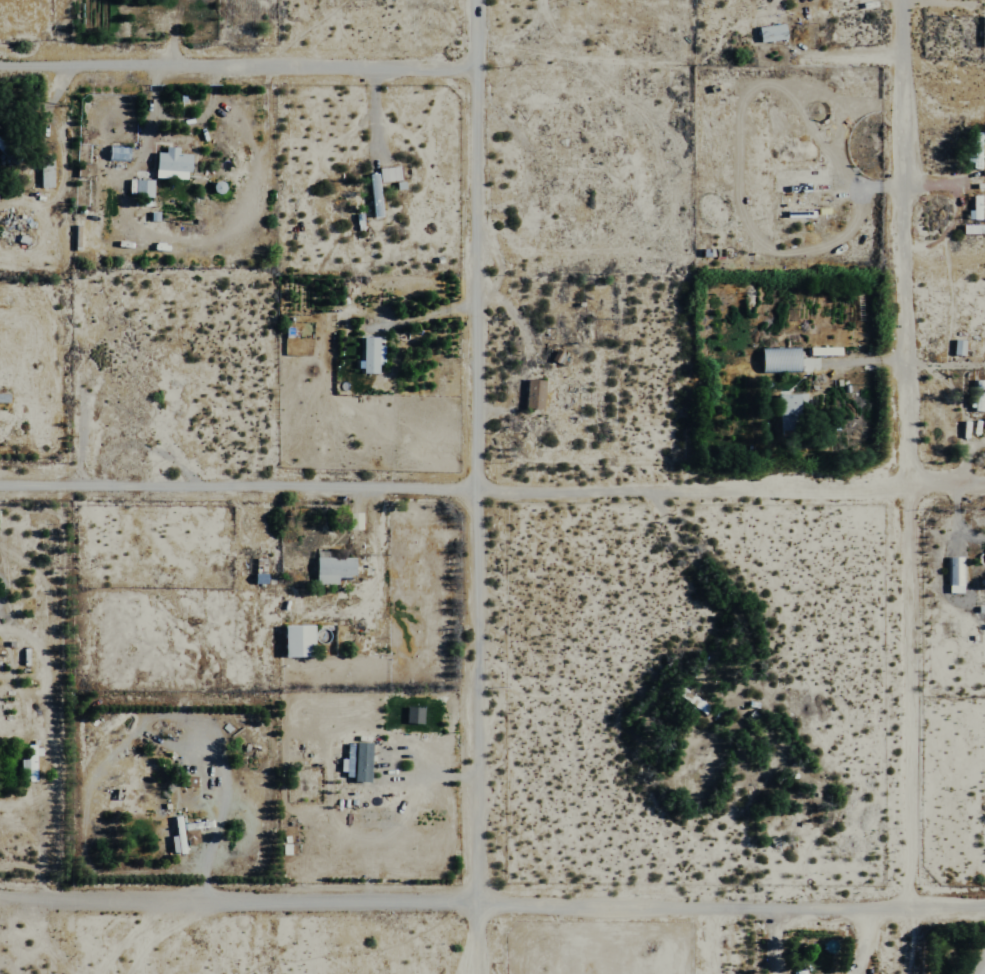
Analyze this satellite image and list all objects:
road: (243, 65)
road: (904, 453)
road: (486, 487)
road: (492, 487)
road: (708, 581)
building: (28, 761)
building: (186, 834)
building: (173, 837)
road: (504, 903)

